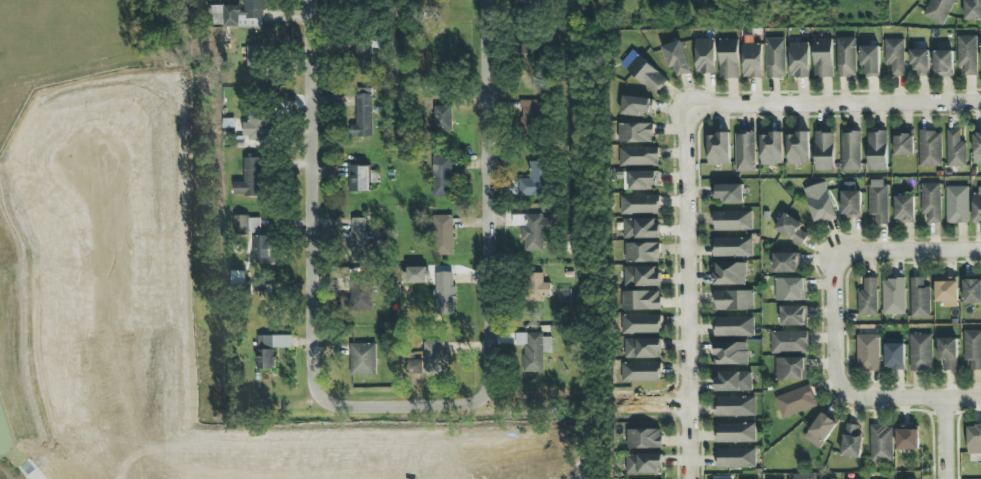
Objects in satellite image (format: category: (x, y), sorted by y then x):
building: (360, 2)
building: (972, 9)
building: (939, 10)
building: (237, 14)
building: (967, 54)
building: (705, 55)
building: (895, 56)
building: (677, 57)
building: (775, 57)
building: (823, 57)
building: (846, 57)
building: (729, 58)
building: (799, 59)
building: (363, 60)
building: (752, 60)
building: (870, 60)
building: (920, 61)
building: (256, 63)
building: (943, 63)
building: (646, 74)
road: (835, 104)
building: (637, 106)
building: (363, 112)
building: (529, 114)
building: (442, 118)
building: (258, 126)
building: (635, 132)
building: (903, 144)
building: (976, 147)
building: (771, 148)
building: (798, 148)
building: (930, 148)
building: (719, 149)
building: (955, 149)
building: (824, 150)
building: (851, 150)
building: (877, 150)
building: (745, 151)
building: (638, 156)
building: (442, 176)
building: (250, 178)
building: (641, 179)
building: (535, 180)
building: (727, 192)
road: (493, 196)
building: (850, 199)
road: (317, 200)
building: (930, 201)
building: (639, 203)
building: (878, 204)
building: (956, 204)
building: (821, 206)
building: (975, 206)
building: (904, 208)
building: (731, 220)
building: (248, 223)
building: (640, 227)
building: (790, 228)
building: (532, 230)
building: (443, 234)
building: (358, 238)
building: (732, 246)
building: (261, 248)
road: (909, 249)
building: (641, 251)
building: (785, 262)
building: (729, 273)
building: (417, 274)
building: (640, 275)
building: (536, 287)
building: (789, 288)
building: (946, 289)
building: (972, 290)
building: (444, 292)
road: (686, 293)
building: (360, 295)
building: (893, 296)
building: (867, 297)
building: (919, 297)
building: (733, 299)
building: (640, 300)
building: (793, 315)
building: (641, 323)
building: (733, 325)
road: (839, 325)
building: (788, 341)
building: (641, 347)
building: (269, 348)
building: (972, 348)
building: (533, 349)
building: (920, 351)
building: (730, 352)
building: (867, 352)
building: (947, 353)
building: (893, 354)
building: (434, 357)
building: (362, 358)
building: (790, 368)
building: (640, 371)
building: (732, 380)
road: (916, 396)
building: (795, 401)
road: (411, 403)
road: (649, 404)
building: (734, 405)
building: (820, 429)
building: (735, 432)
road: (956, 434)
building: (907, 437)
road: (943, 437)
building: (644, 438)
building: (973, 439)
building: (851, 440)
building: (880, 442)
building: (735, 457)
building: (643, 463)
building: (802, 476)

